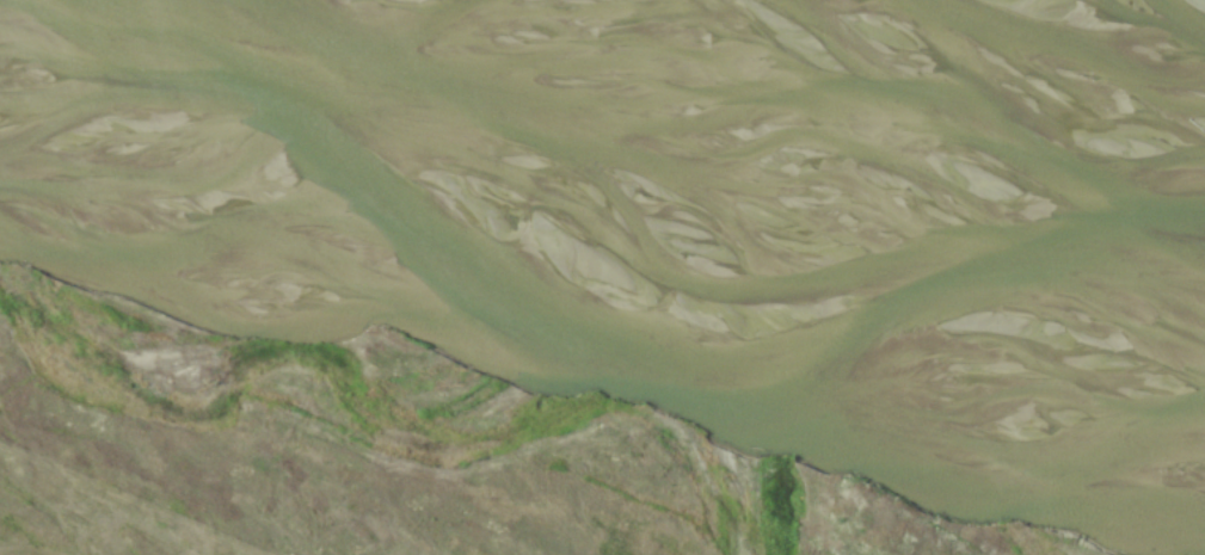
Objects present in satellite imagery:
river: (595, 253)

